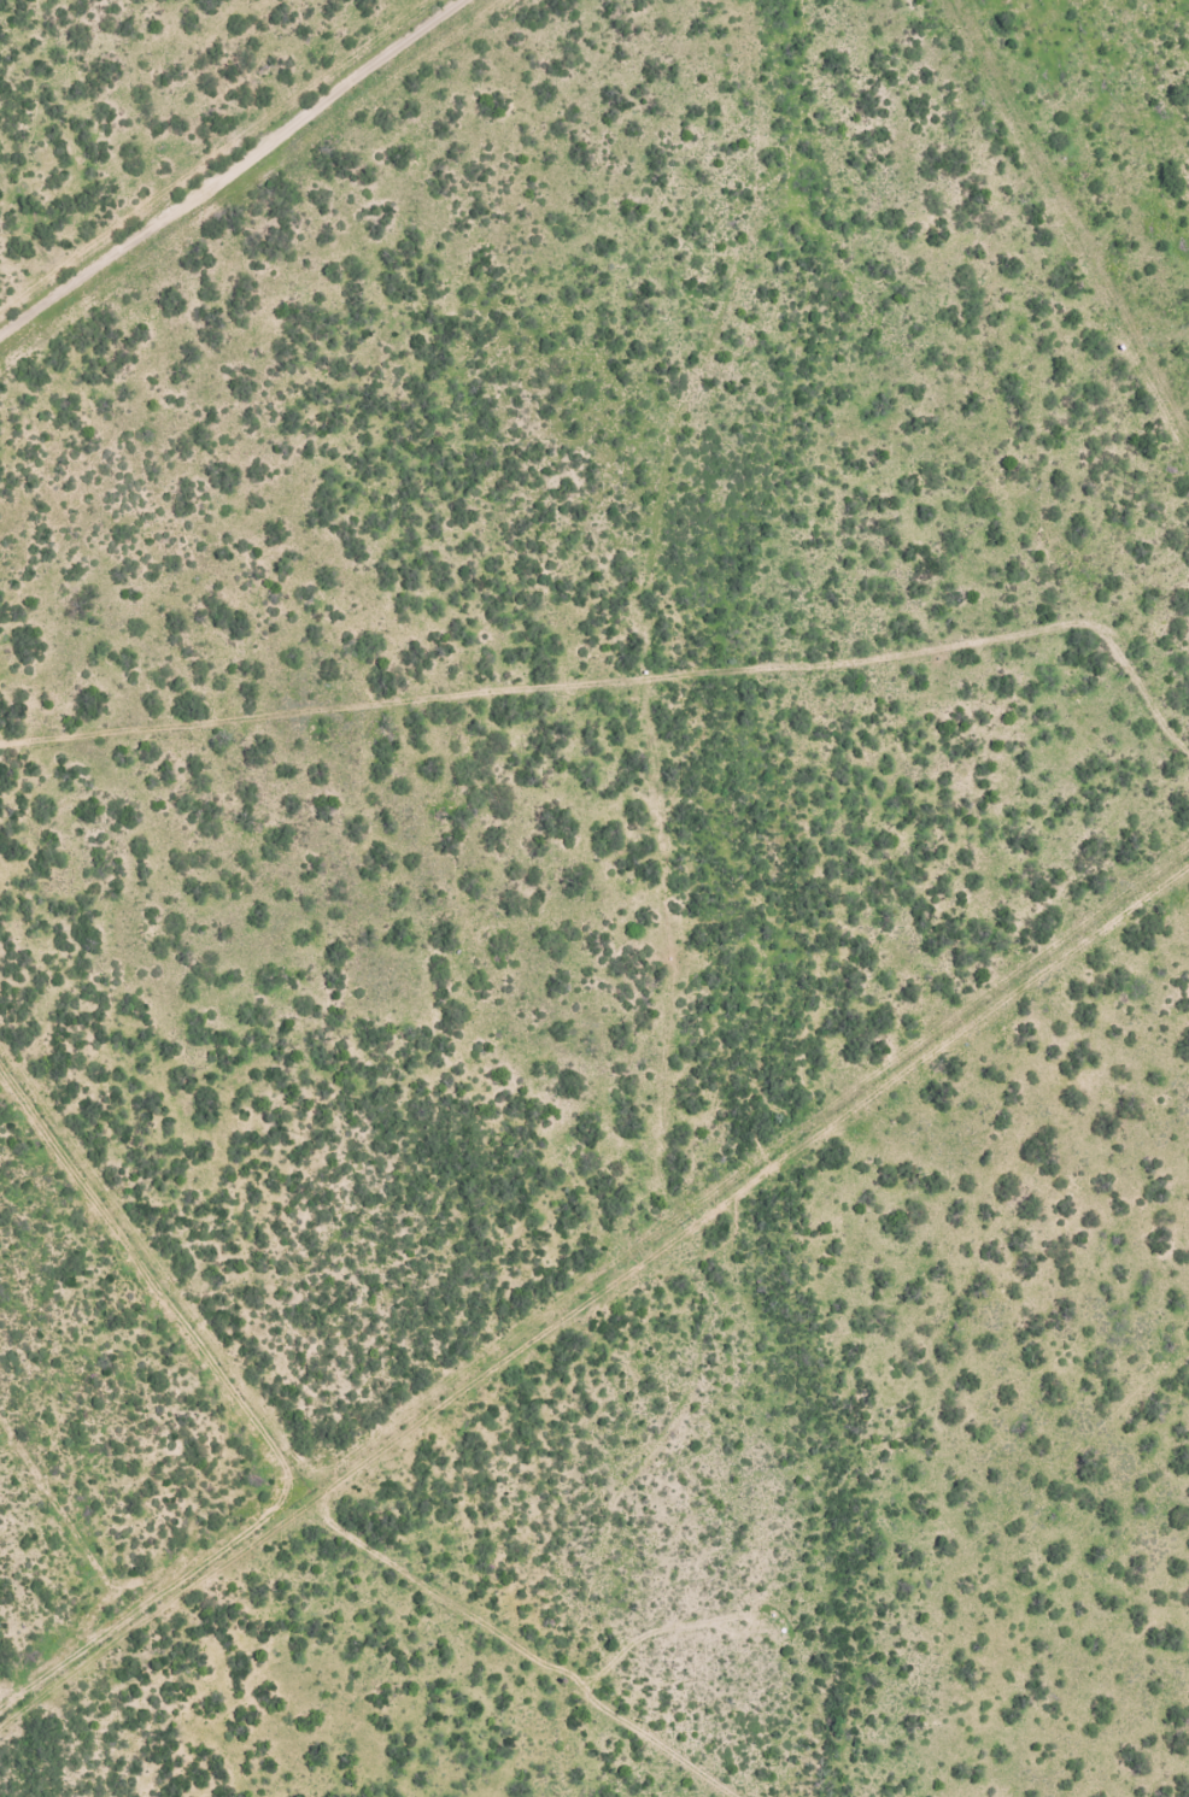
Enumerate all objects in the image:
road: (242, 175)
road: (684, 910)

